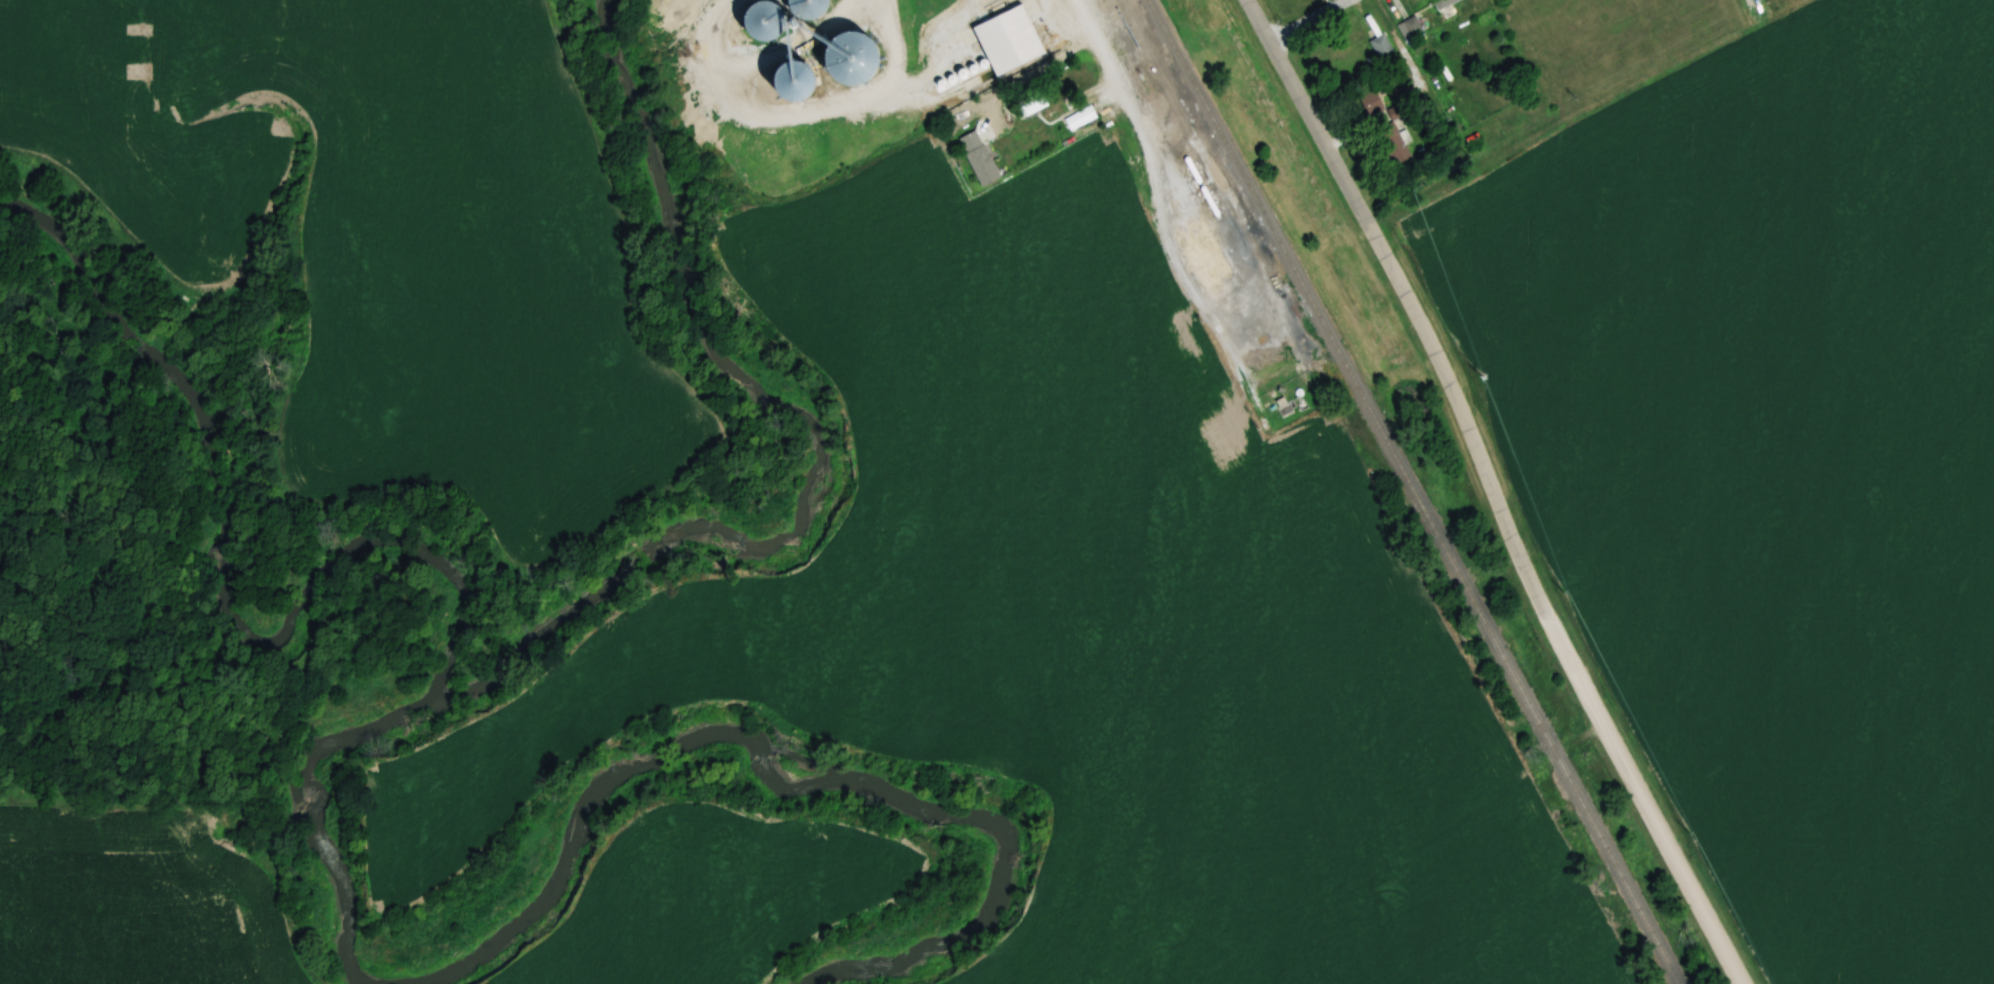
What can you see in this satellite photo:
building: (1442, 3)
building: (794, 11)
road: (1756, 11)
road: (1307, 21)
building: (748, 24)
building: (1410, 30)
building: (1005, 41)
park: (1623, 42)
building: (1380, 46)
building: (840, 60)
building: (783, 83)
building: (1029, 103)
building: (1369, 104)
road: (1132, 111)
building: (1085, 116)
road: (1309, 116)
building: (1392, 145)
building: (1200, 256)
railway: (1293, 305)
road: (1462, 416)
river: (822, 445)
railway: (1414, 491)
river: (338, 582)
river: (780, 767)
road: (1639, 795)

